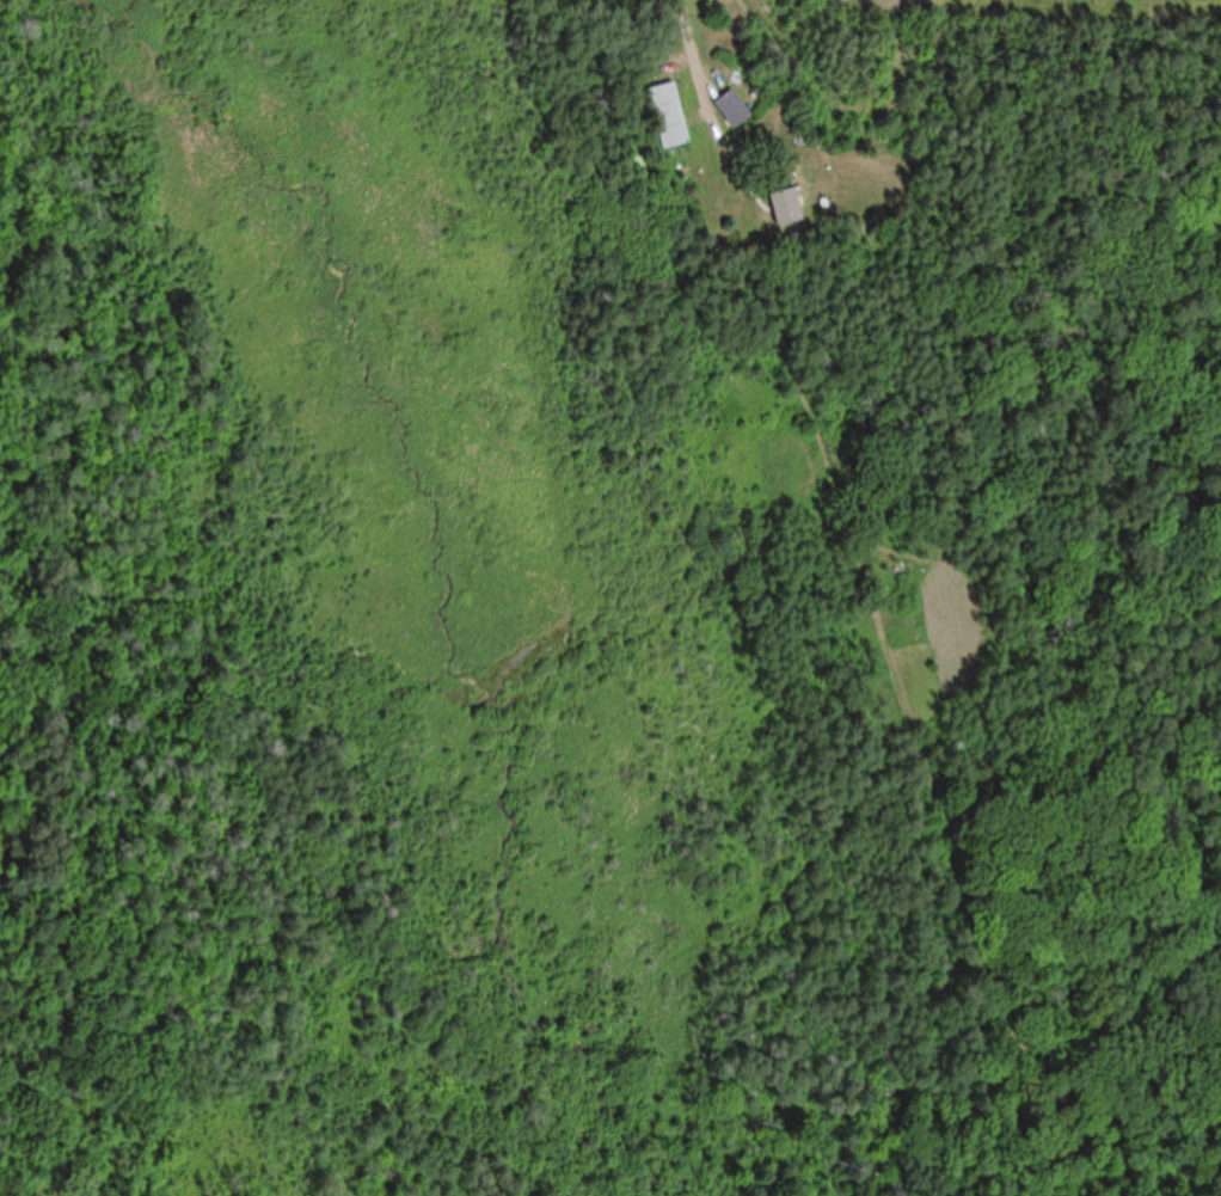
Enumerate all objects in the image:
building: (669, 115)
building: (785, 207)

